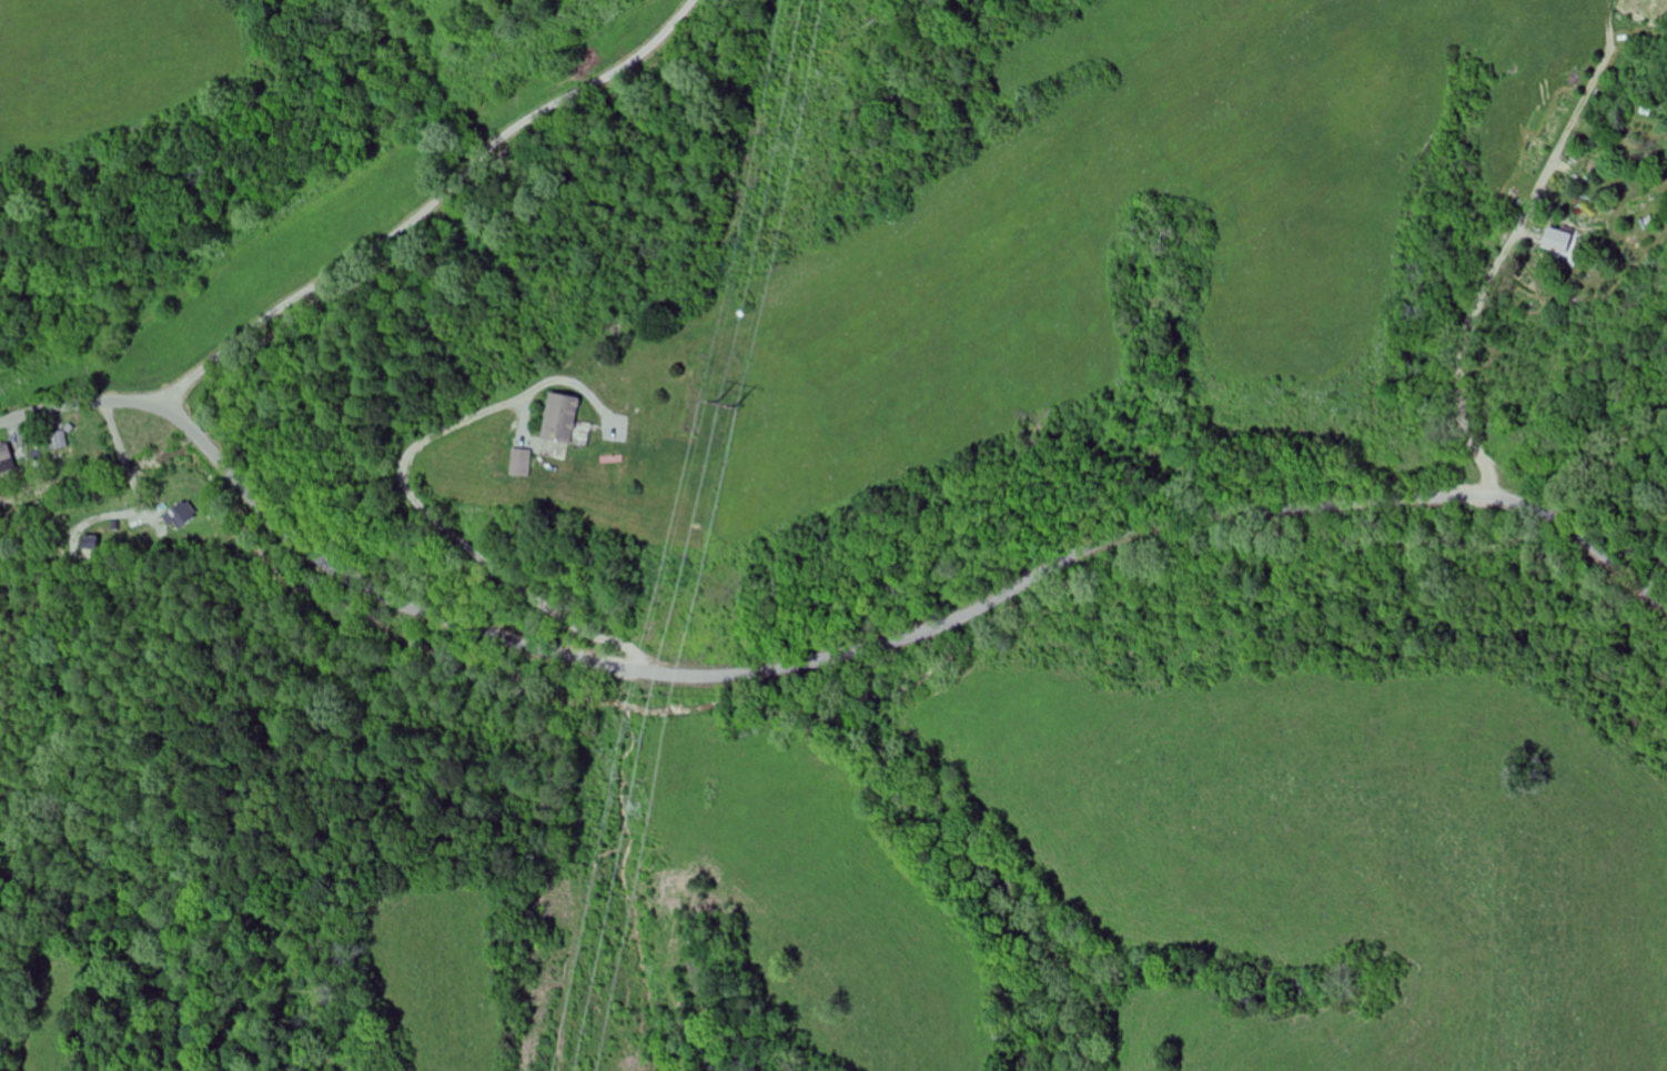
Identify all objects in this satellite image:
road: (427, 206)
building: (1560, 241)
road: (1492, 263)
power tower: (725, 403)
building: (562, 418)
building: (59, 443)
building: (7, 461)
building: (522, 463)
road: (421, 506)
building: (180, 516)
road: (821, 659)

